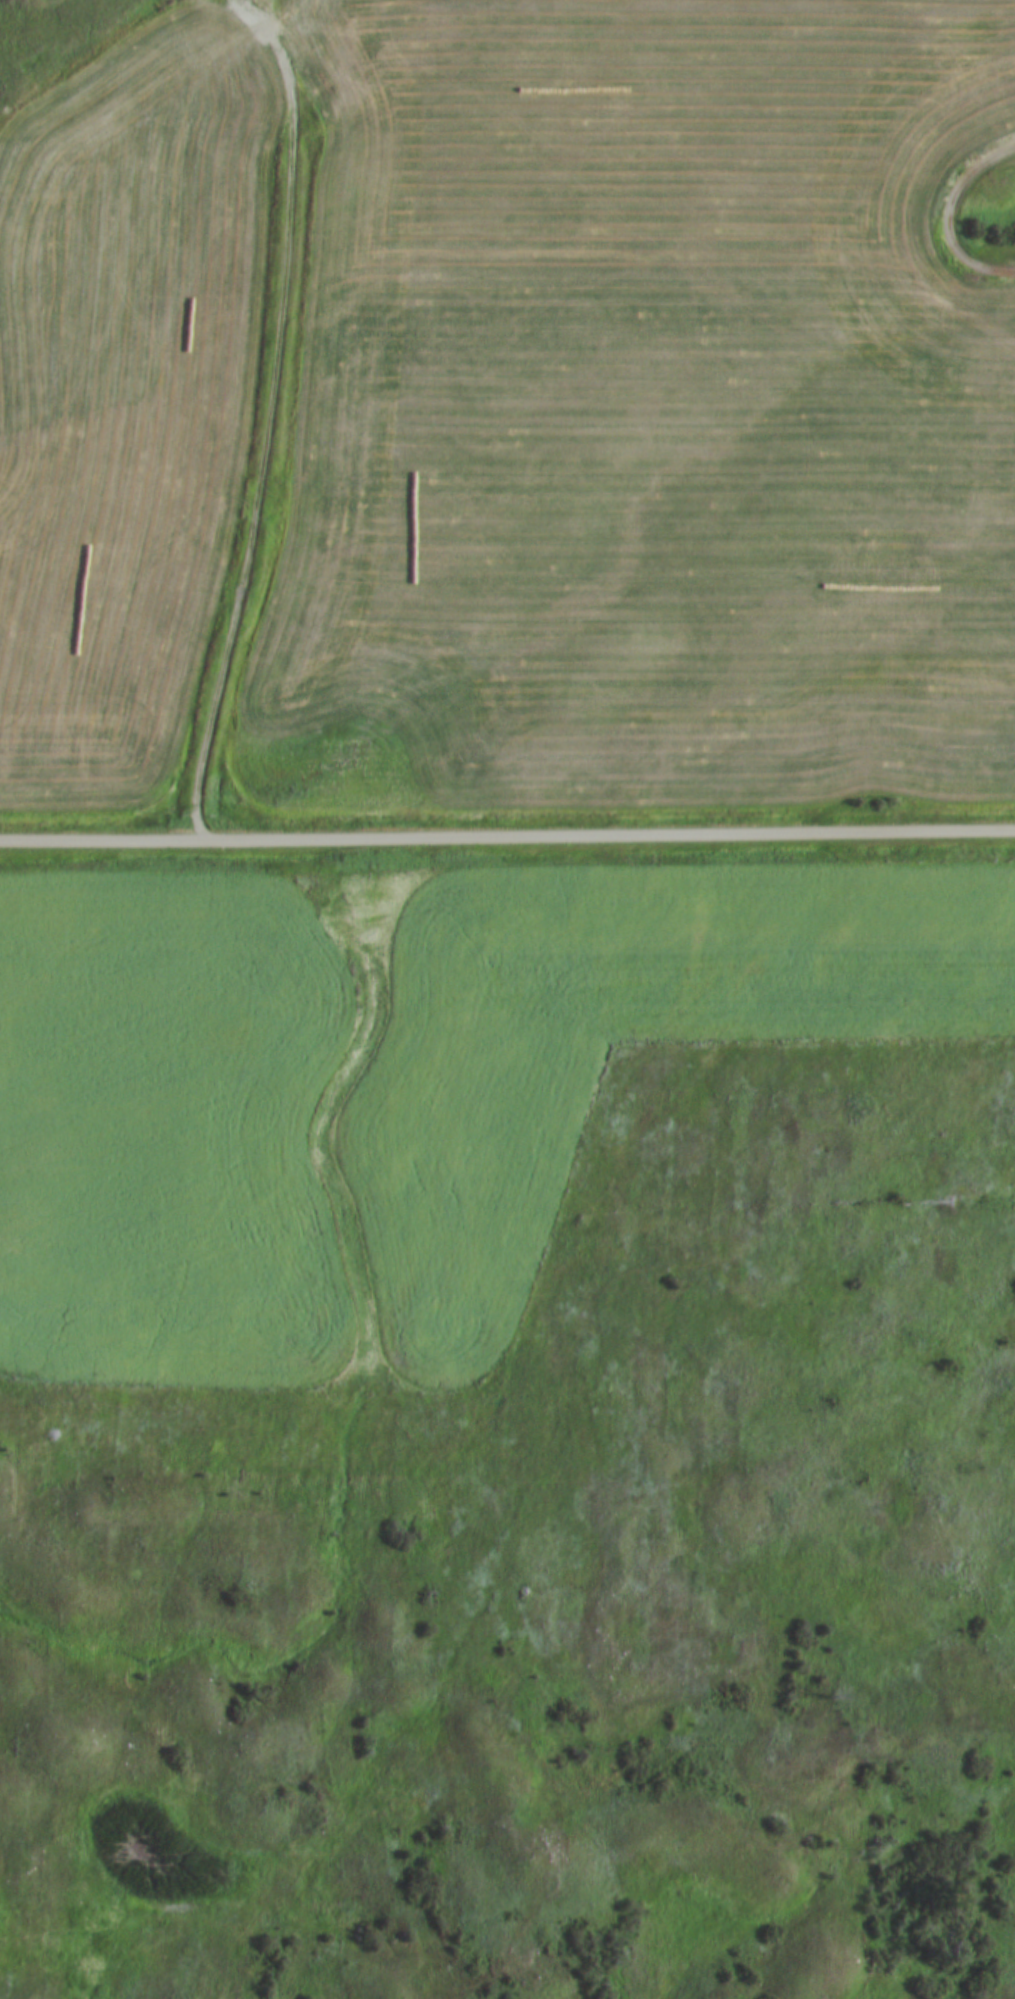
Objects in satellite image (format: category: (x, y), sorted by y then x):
quarry: (53, 38)
road: (947, 212)
road: (270, 418)
road: (507, 835)

